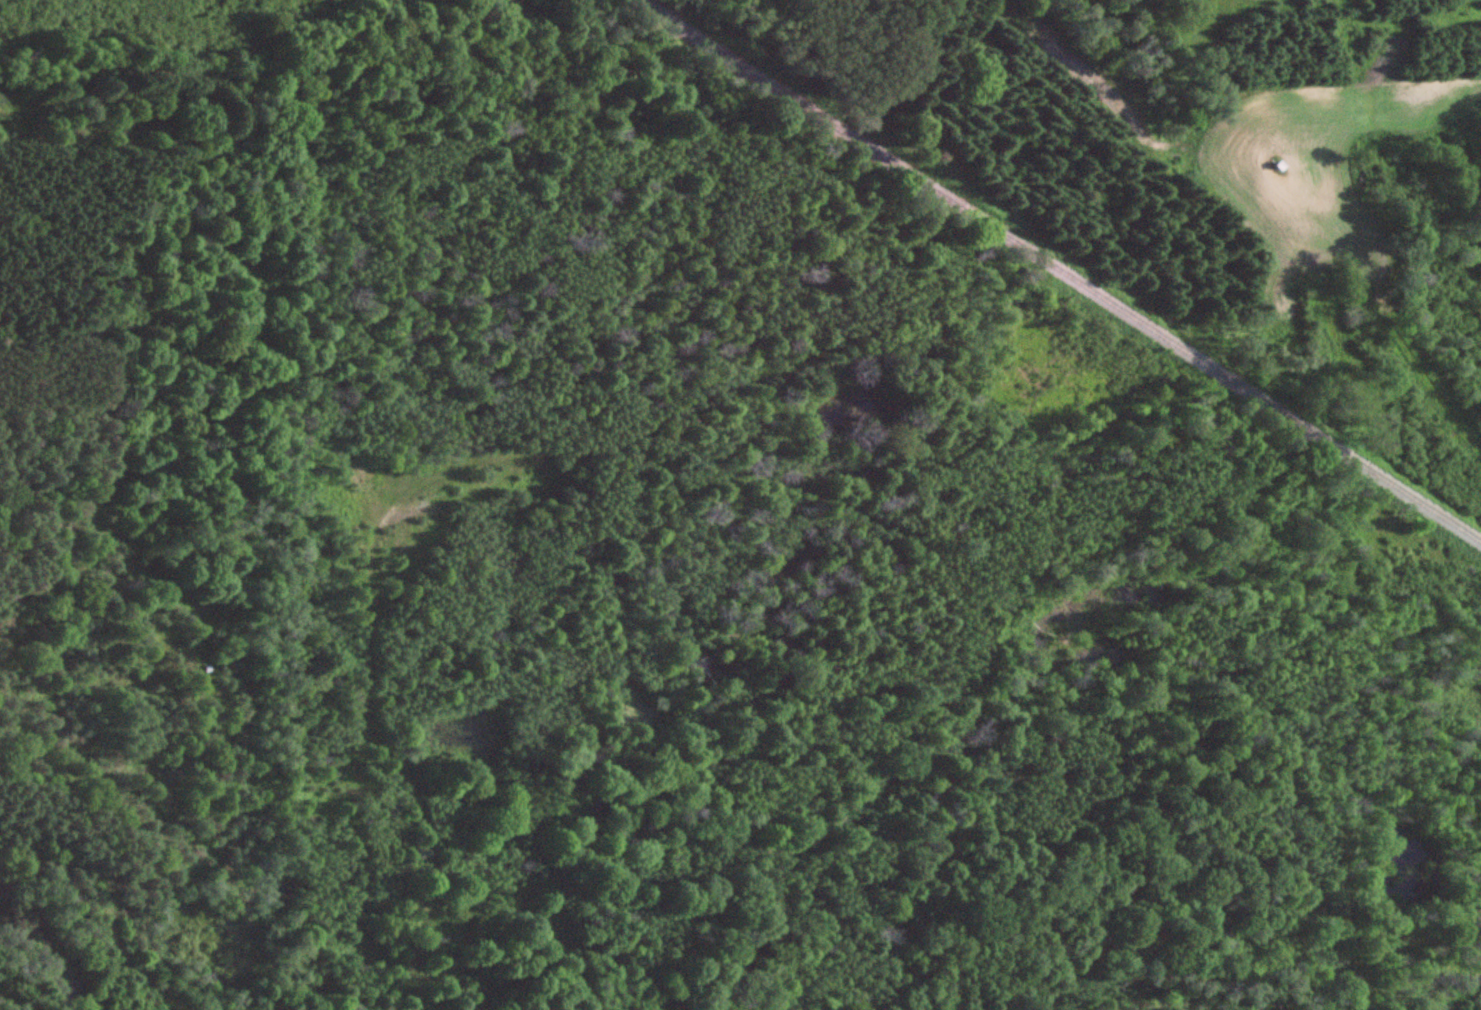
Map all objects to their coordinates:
railway: (1063, 269)

